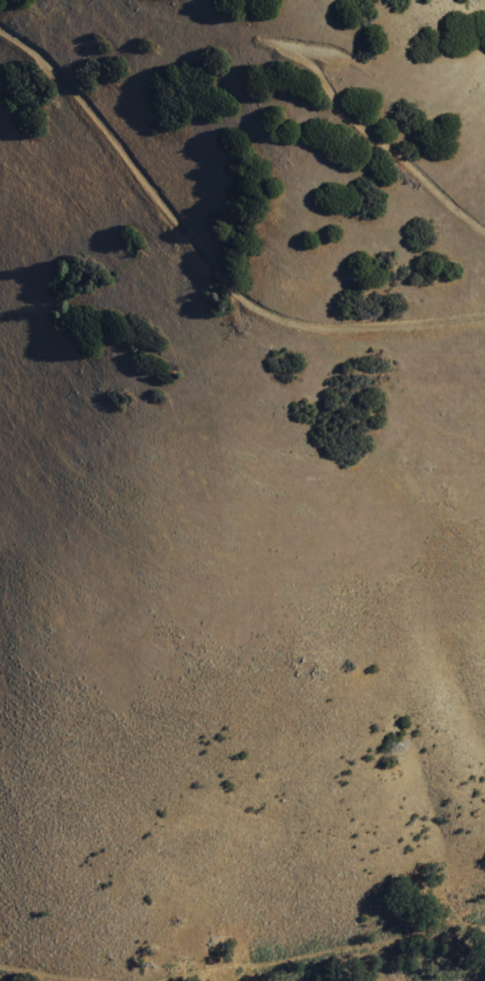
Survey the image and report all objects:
road: (465, 976)

